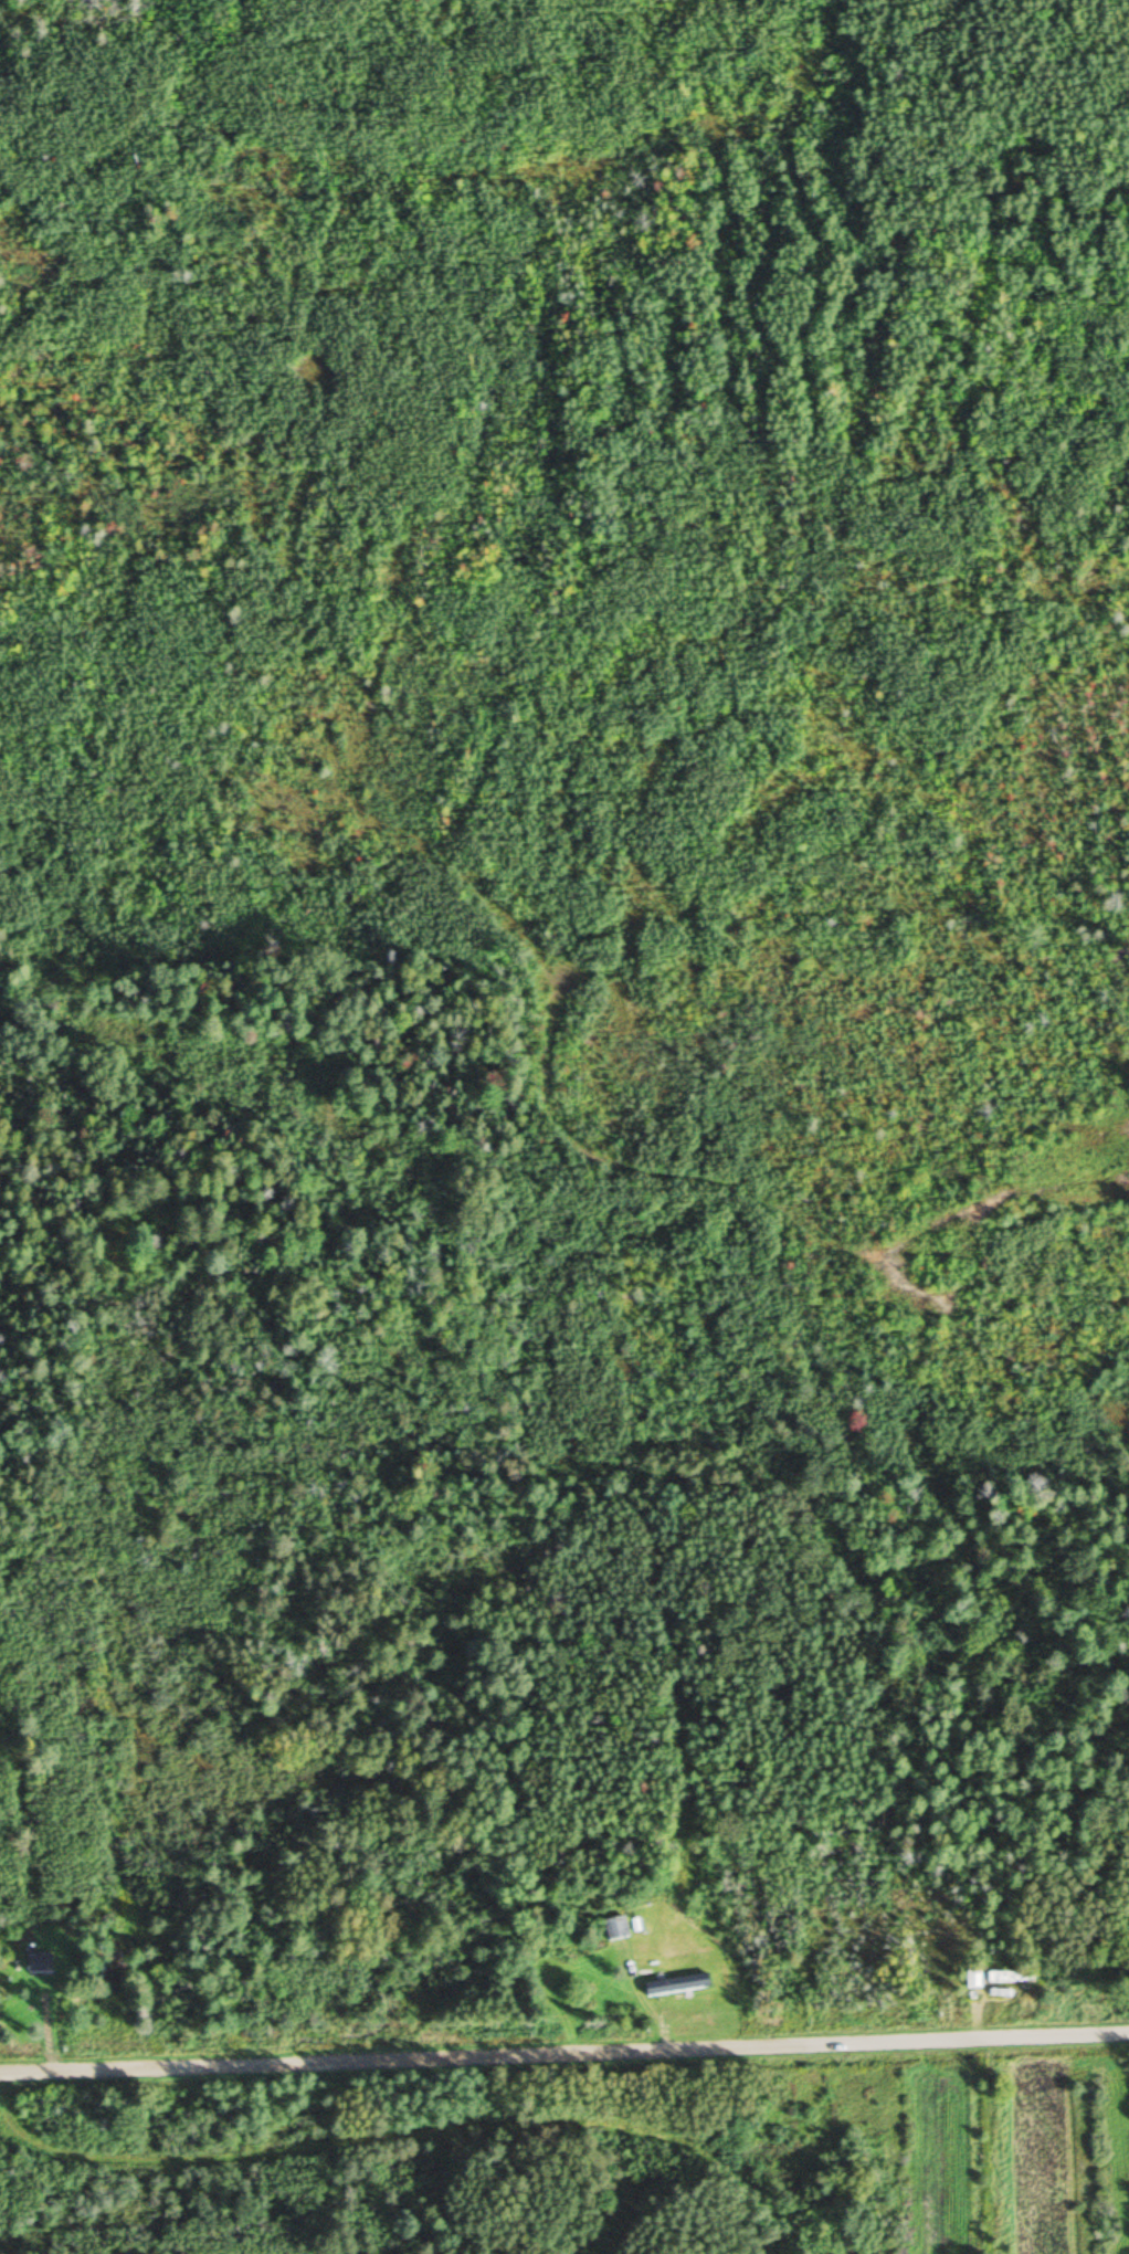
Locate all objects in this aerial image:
building: (613, 1928)
building: (36, 1963)
building: (995, 1978)
building: (674, 1986)
road: (564, 2051)

